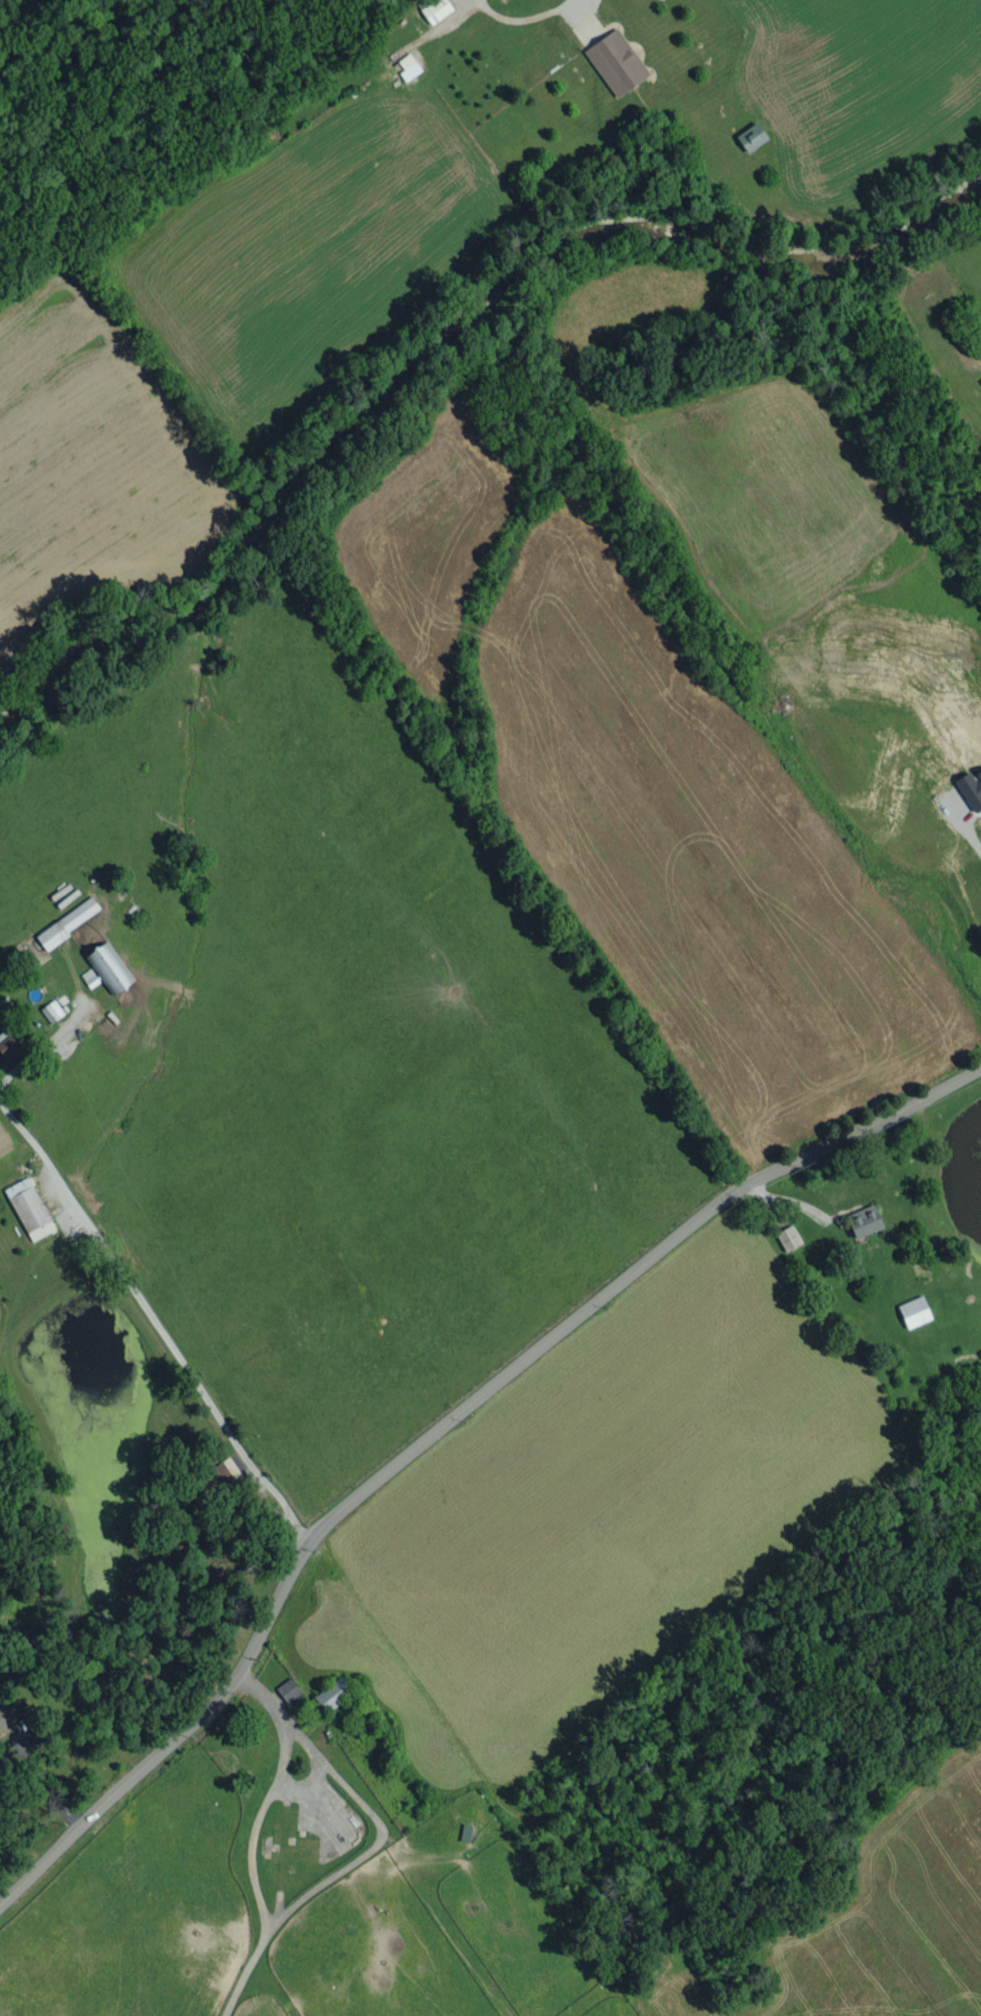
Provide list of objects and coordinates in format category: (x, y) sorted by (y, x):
building: (436, 10)
building: (616, 61)
building: (408, 66)
building: (980, 380)
building: (971, 788)
road: (968, 838)
building: (68, 922)
building: (109, 967)
building: (52, 1010)
building: (9, 1048)
building: (29, 1208)
building: (863, 1220)
building: (788, 1237)
road: (116, 1268)
building: (914, 1311)
road: (440, 1429)
building: (215, 1480)
building: (332, 1694)
building: (6, 1715)
road: (46, 1780)

